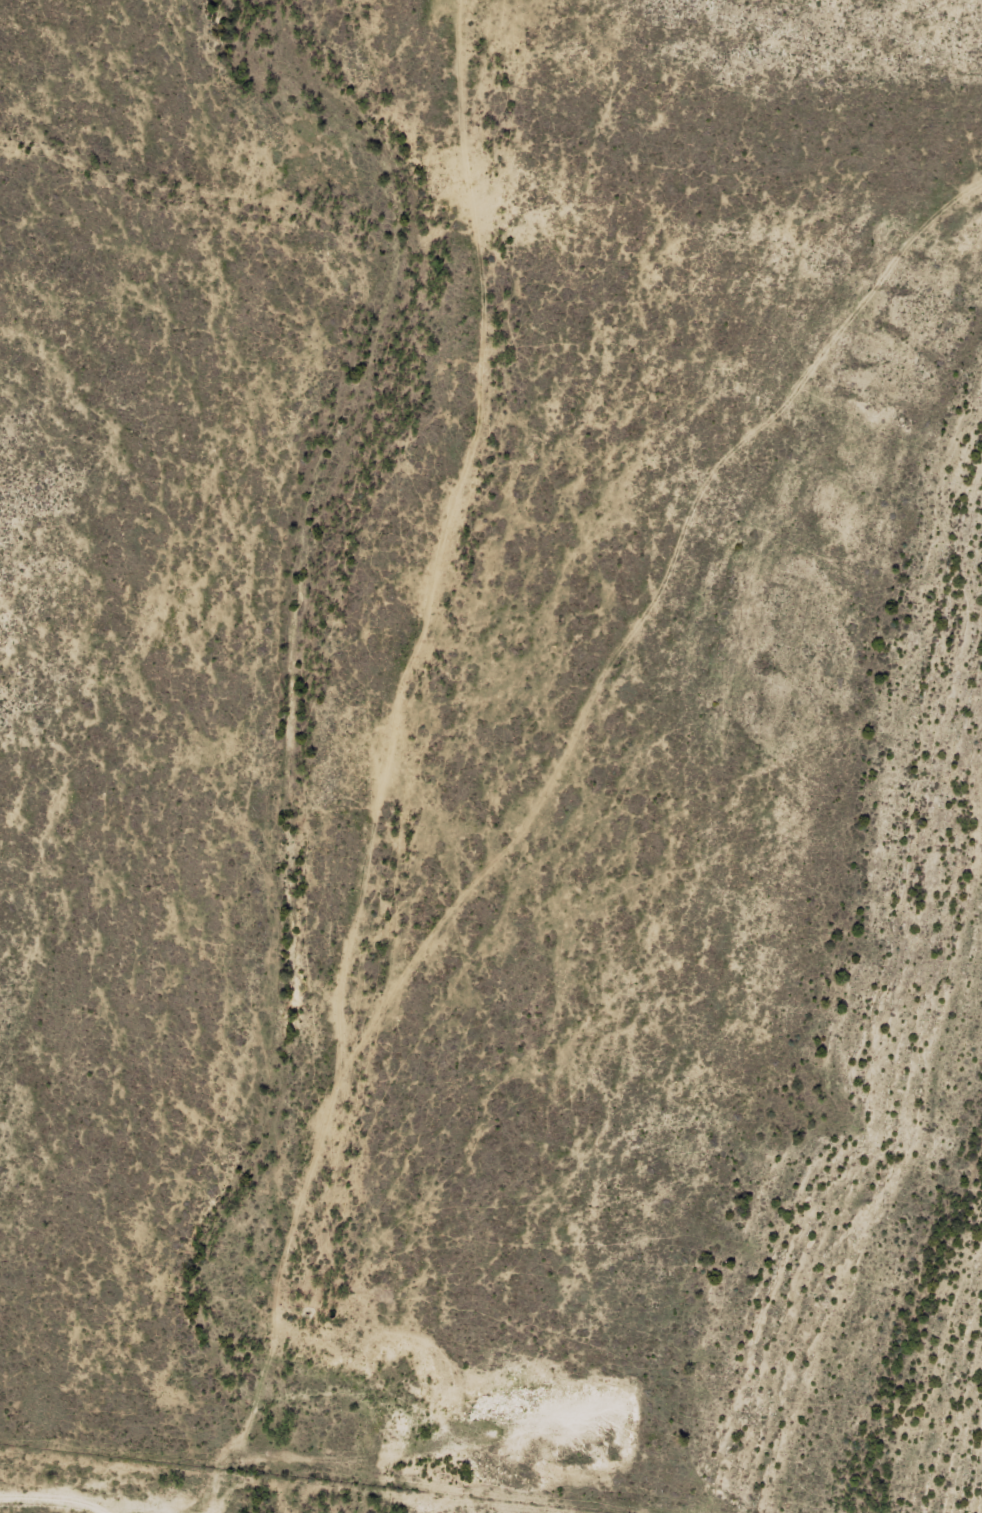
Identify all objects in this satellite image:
road: (242, 1482)
road: (110, 1509)

